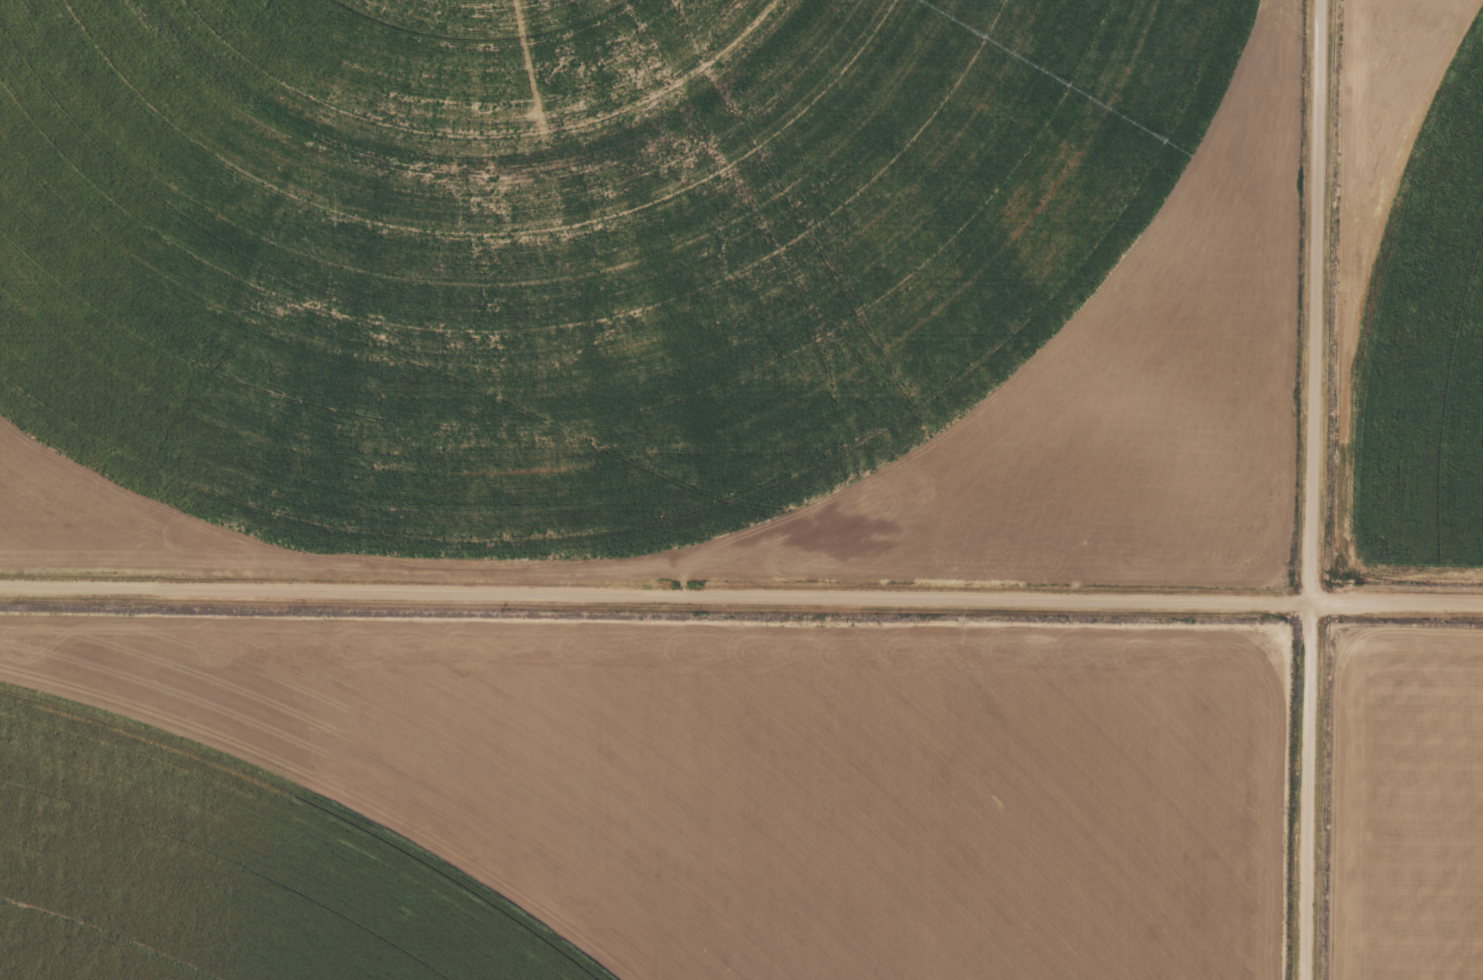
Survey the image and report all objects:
road: (1313, 489)
road: (741, 598)
crop: (1427, 808)

